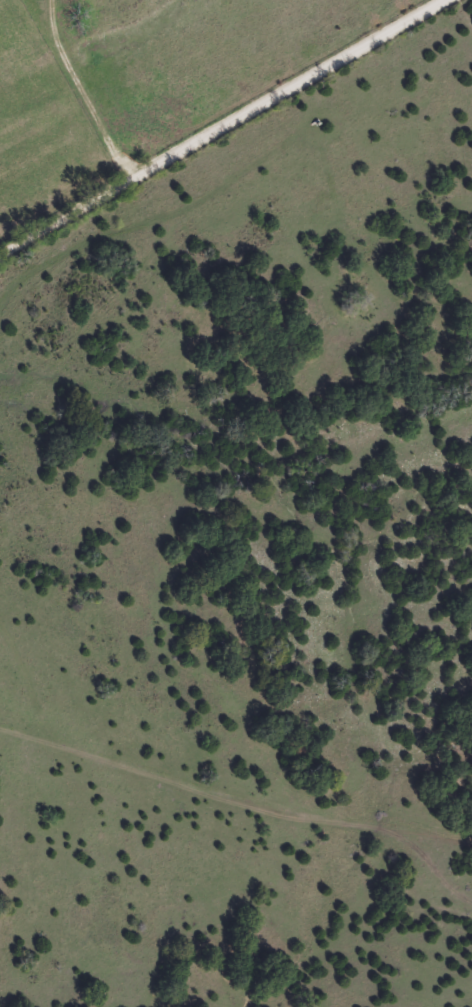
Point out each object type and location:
road: (226, 128)
road: (225, 826)

